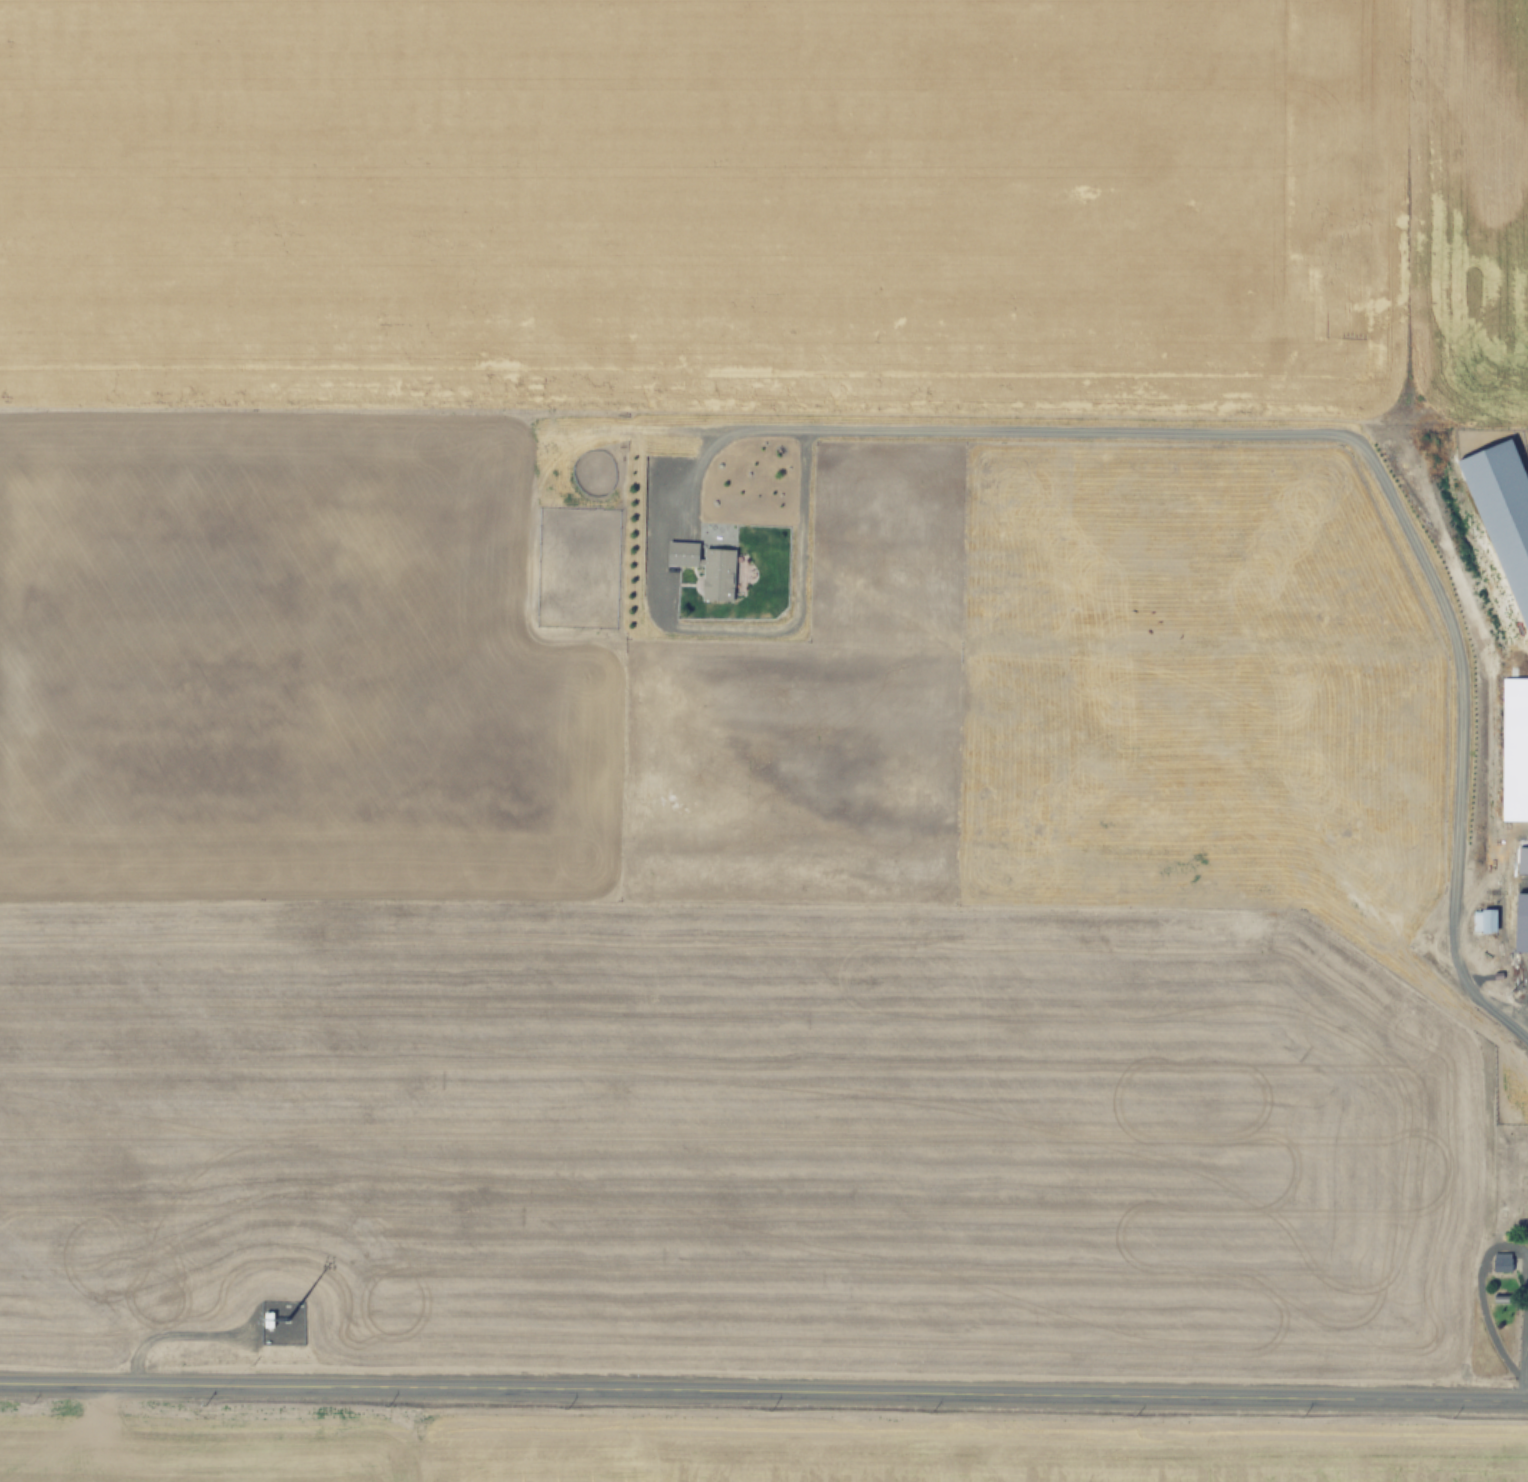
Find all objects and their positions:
road: (1005, 421)
building: (1514, 749)
building: (1483, 925)
building: (1525, 1179)
building: (268, 1319)
road: (763, 1391)

